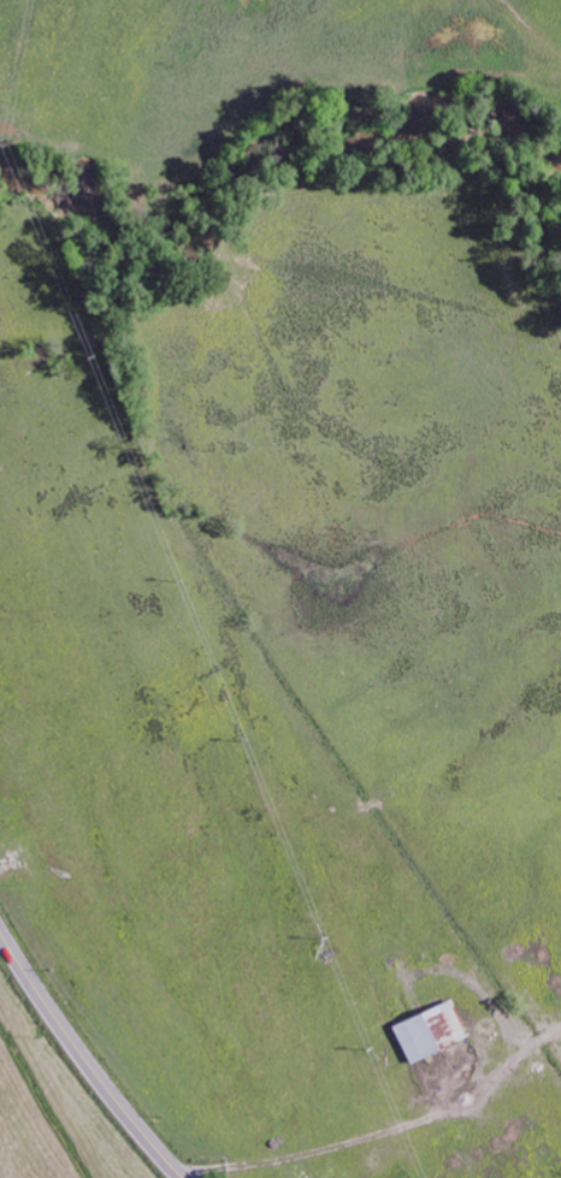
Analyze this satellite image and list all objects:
building: (427, 1030)
road: (85, 1058)

